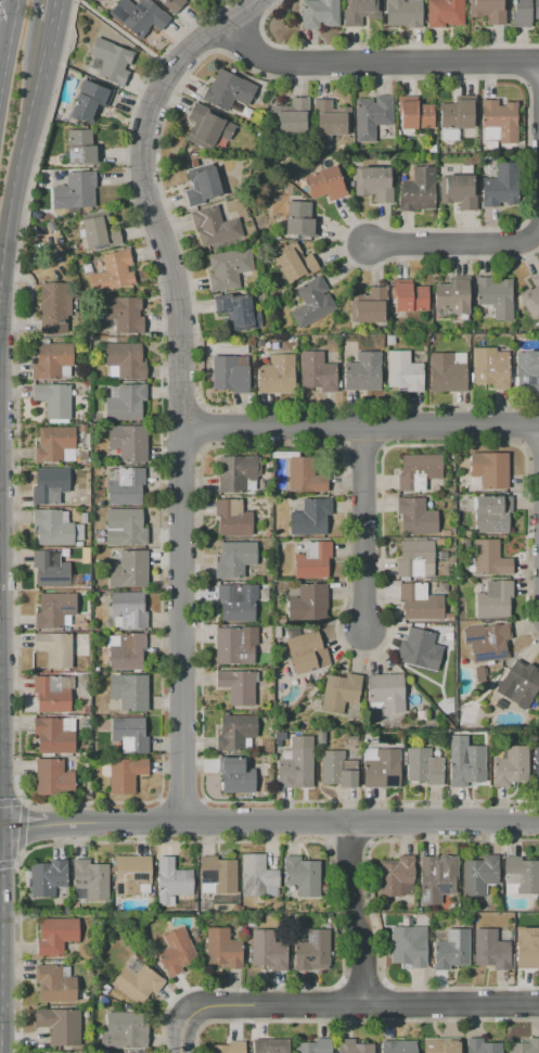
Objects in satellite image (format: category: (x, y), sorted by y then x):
road: (15, 3)
building: (172, 4)
road: (245, 8)
road: (255, 9)
building: (360, 11)
building: (487, 11)
road: (51, 12)
building: (403, 12)
building: (445, 12)
building: (524, 12)
building: (319, 13)
building: (138, 15)
road: (5, 29)
road: (204, 36)
road: (241, 40)
road: (10, 43)
road: (376, 46)
road: (42, 54)
building: (111, 60)
road: (375, 60)
road: (524, 64)
road: (285, 76)
road: (531, 84)
building: (228, 90)
road: (2, 96)
building: (87, 101)
building: (413, 113)
building: (457, 114)
building: (291, 115)
building: (372, 116)
building: (329, 122)
building: (499, 123)
building: (206, 126)
building: (452, 147)
building: (81, 148)
building: (432, 149)
road: (17, 156)
building: (324, 183)
building: (373, 183)
building: (201, 185)
building: (500, 186)
building: (416, 190)
building: (74, 191)
building: (458, 191)
building: (299, 219)
building: (214, 226)
building: (99, 231)
road: (455, 243)
building: (292, 262)
building: (228, 268)
building: (113, 272)
building: (453, 294)
building: (408, 295)
building: (496, 296)
building: (531, 296)
building: (311, 302)
building: (368, 305)
building: (53, 307)
building: (120, 313)
building: (236, 313)
building: (429, 338)
building: (389, 340)
building: (50, 360)
building: (124, 360)
building: (490, 367)
building: (402, 370)
building: (527, 370)
building: (317, 371)
building: (362, 371)
building: (230, 372)
building: (446, 372)
building: (275, 375)
building: (86, 388)
road: (178, 395)
building: (54, 401)
building: (124, 402)
road: (180, 402)
road: (201, 404)
building: (84, 405)
building: (81, 416)
building: (75, 417)
road: (341, 424)
road: (523, 424)
road: (380, 426)
road: (200, 427)
building: (82, 428)
road: (359, 428)
building: (127, 442)
road: (325, 444)
road: (341, 444)
road: (360, 444)
building: (55, 445)
road: (531, 445)
road: (179, 446)
road: (522, 446)
road: (202, 447)
road: (382, 447)
building: (283, 454)
building: (82, 456)
building: (268, 465)
building: (489, 469)
building: (418, 470)
building: (236, 473)
building: (305, 477)
building: (49, 485)
building: (125, 485)
building: (102, 504)
building: (491, 513)
building: (415, 516)
building: (310, 517)
building: (82, 518)
building: (232, 518)
building: (100, 526)
building: (124, 526)
road: (362, 528)
building: (52, 529)
building: (78, 532)
building: (267, 533)
building: (99, 538)
building: (78, 544)
building: (85, 553)
building: (67, 558)
building: (414, 558)
building: (489, 558)
building: (234, 559)
building: (312, 560)
building: (50, 569)
building: (128, 570)
building: (95, 595)
building: (493, 599)
building: (306, 601)
building: (236, 602)
building: (420, 604)
building: (54, 609)
building: (128, 610)
building: (275, 621)
building: (84, 622)
building: (267, 627)
building: (266, 632)
building: (292, 632)
building: (487, 642)
building: (233, 647)
building: (54, 648)
building: (420, 649)
building: (126, 650)
building: (305, 651)
building: (95, 670)
building: (98, 676)
building: (518, 684)
building: (238, 685)
building: (128, 690)
building: (339, 692)
building: (385, 692)
building: (52, 693)
building: (86, 712)
building: (467, 715)
building: (85, 726)
building: (235, 733)
building: (54, 735)
building: (129, 735)
building: (347, 737)
building: (321, 739)
building: (374, 740)
building: (296, 764)
building: (466, 765)
building: (509, 765)
building: (537, 765)
building: (423, 766)
building: (337, 767)
building: (381, 767)
building: (124, 773)
building: (235, 774)
building: (52, 777)
building: (87, 791)
road: (158, 799)
road: (203, 799)
road: (10, 800)
road: (180, 801)
road: (106, 802)
road: (161, 821)
road: (201, 821)
road: (325, 821)
road: (367, 821)
road: (298, 822)
road: (21, 826)
road: (29, 828)
road: (253, 840)
road: (346, 841)
road: (370, 842)
road: (324, 843)
road: (8, 864)
building: (478, 874)
building: (132, 875)
building: (217, 875)
building: (301, 875)
building: (396, 876)
building: (521, 876)
building: (257, 877)
building: (436, 877)
building: (47, 878)
building: (90, 880)
building: (171, 881)
road: (370, 906)
building: (418, 910)
road: (352, 912)
building: (475, 922)
building: (251, 925)
building: (55, 936)
building: (408, 947)
building: (222, 948)
building: (490, 949)
building: (527, 949)
building: (267, 950)
building: (451, 950)
building: (311, 951)
building: (177, 952)
building: (137, 981)
road: (339, 981)
road: (384, 982)
building: (54, 984)
road: (362, 984)
building: (104, 989)
building: (84, 994)
road: (339, 1001)
road: (384, 1001)
building: (104, 1003)
road: (362, 1003)
road: (355, 1019)
building: (60, 1025)
building: (126, 1029)
road: (183, 1032)
building: (100, 1042)
building: (271, 1045)
building: (438, 1045)
building: (315, 1046)
building: (352, 1046)
building: (399, 1046)
building: (482, 1046)
building: (525, 1046)
building: (228, 1048)
building: (103, 1052)

